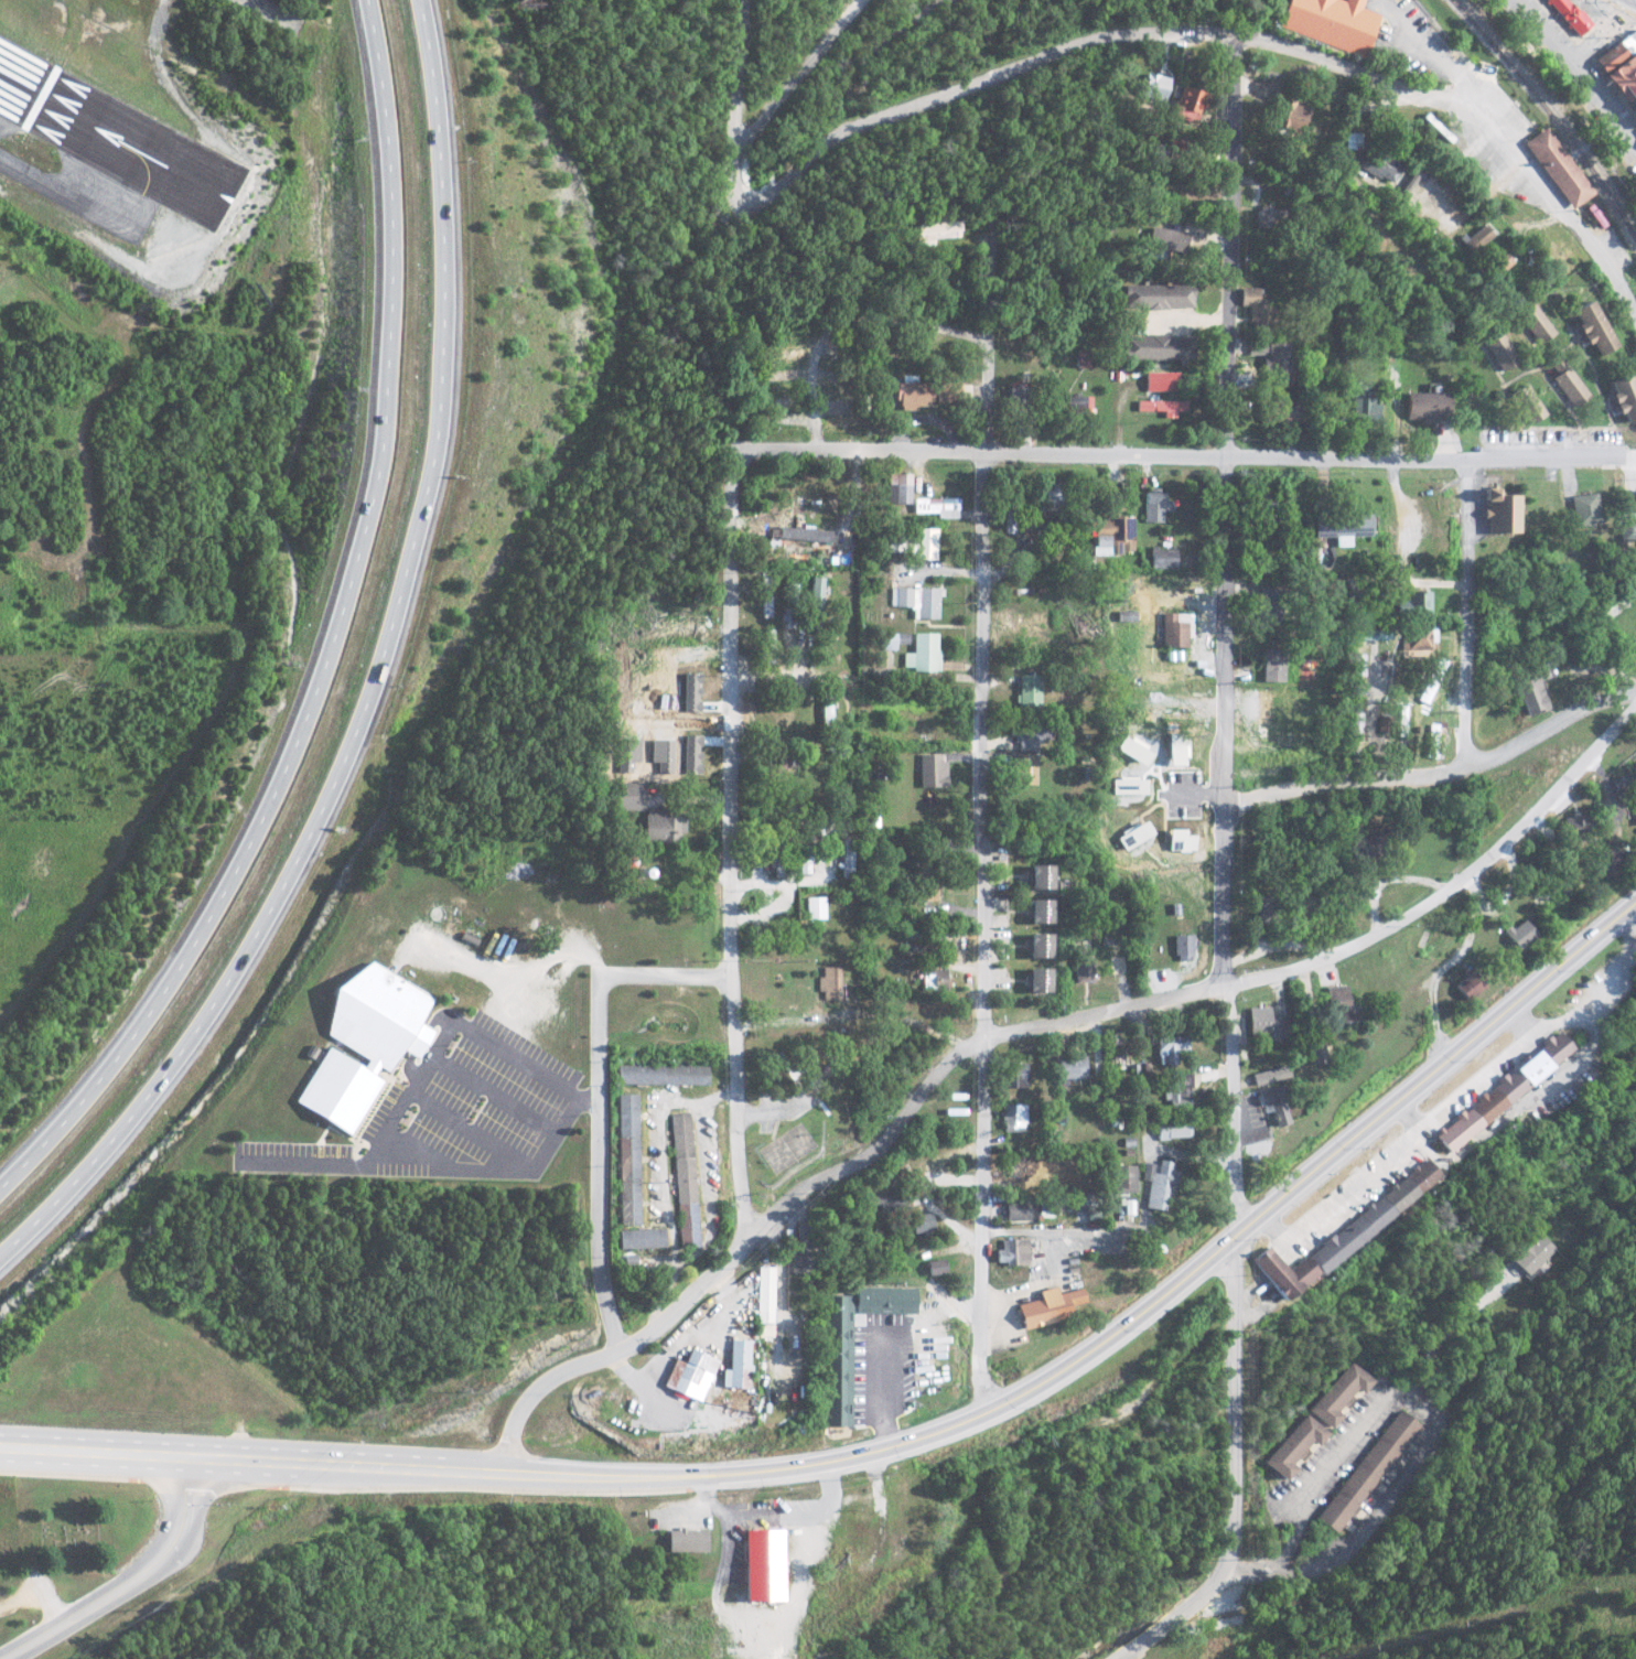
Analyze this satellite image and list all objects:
building: (1570, 14)
building: (1332, 22)
park: (1035, 24)
road: (1219, 34)
road: (1592, 44)
road: (1435, 55)
building: (1624, 66)
road: (1581, 73)
road: (743, 77)
road: (803, 77)
building: (1152, 86)
building: (1185, 104)
building: (1291, 116)
railway: (1548, 119)
building: (1373, 159)
building: (1557, 166)
road: (736, 180)
airport runway: (233, 183)
airport taxiway: (71, 201)
building: (1267, 216)
building: (934, 231)
building: (1165, 238)
building: (1473, 239)
airport: (121, 261)
building: (1497, 262)
building: (1156, 295)
building: (1256, 305)
road: (850, 321)
building: (1532, 323)
building: (1589, 326)
building: (1160, 347)
building: (1498, 351)
building: (1272, 358)
building: (1562, 379)
building: (1159, 380)
building: (831, 392)
building: (947, 392)
building: (914, 394)
building: (1622, 397)
building: (1019, 403)
building: (1526, 403)
building: (1079, 405)
building: (1430, 406)
building: (1162, 407)
building: (1366, 410)
building: (842, 421)
road: (1183, 459)
building: (900, 488)
building: (938, 506)
building: (1153, 507)
building: (1260, 507)
building: (1585, 508)
building: (1503, 510)
building: (1626, 526)
building: (1343, 527)
building: (805, 535)
building: (1115, 535)
building: (1163, 558)
road: (1352, 584)
building: (766, 596)
building: (917, 601)
building: (816, 603)
building: (1414, 604)
building: (1269, 606)
road: (1473, 614)
building: (1174, 631)
road: (327, 638)
building: (894, 640)
building: (1634, 642)
park: (1621, 643)
building: (924, 653)
building: (1273, 666)
building: (1430, 680)
road: (367, 682)
road: (794, 683)
building: (1030, 691)
road: (921, 732)
building: (1033, 736)
road: (855, 743)
building: (1025, 768)
building: (932, 771)
road: (1441, 773)
building: (1129, 787)
building: (628, 796)
building: (1635, 810)
road: (984, 826)
building: (1575, 827)
building: (663, 828)
building: (1181, 841)
building: (1375, 844)
road: (739, 853)
road: (1230, 873)
building: (1040, 876)
building: (926, 888)
building: (816, 908)
building: (1267, 909)
building: (1040, 912)
building: (1519, 934)
building: (1038, 946)
building: (1184, 948)
road: (1438, 967)
building: (1084, 973)
building: (934, 979)
building: (1038, 980)
building: (830, 983)
building: (1468, 984)
building: (1337, 997)
building: (1268, 1025)
road: (1030, 1026)
building: (364, 1046)
building: (1171, 1048)
building: (1317, 1051)
building: (1069, 1065)
building: (661, 1075)
building: (1016, 1076)
road: (422, 1081)
building: (1505, 1090)
building: (1180, 1091)
building: (1272, 1092)
road: (497, 1095)
road: (601, 1098)
park: (798, 1105)
building: (1015, 1118)
building: (1174, 1131)
road: (476, 1133)
park: (788, 1151)
building: (627, 1160)
road: (497, 1167)
building: (1124, 1178)
building: (684, 1181)
building: (1158, 1183)
building: (1018, 1208)
building: (1374, 1217)
building: (922, 1224)
building: (641, 1238)
building: (1013, 1252)
building: (1532, 1254)
building: (801, 1257)
building: (936, 1268)
building: (1285, 1273)
building: (765, 1295)
building: (1050, 1307)
road: (1078, 1361)
building: (738, 1366)
building: (840, 1370)
building: (690, 1376)
building: (1339, 1394)
road: (1432, 1432)
building: (1294, 1447)
road: (187, 1456)
building: (1365, 1472)
park: (68, 1537)
building: (687, 1541)
building: (763, 1566)
road: (133, 1582)

